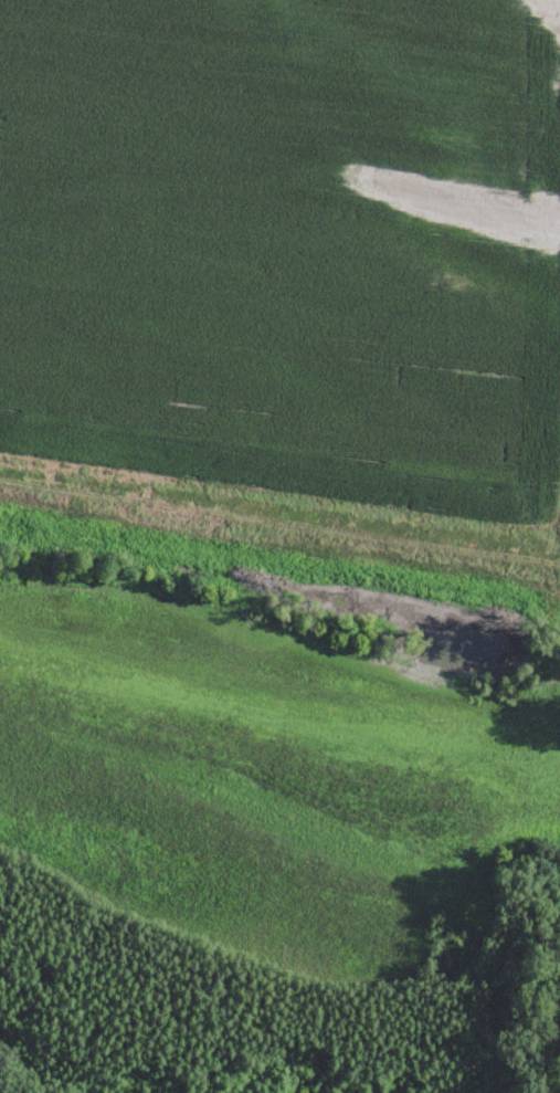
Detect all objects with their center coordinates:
crop: (287, 244)
crop: (268, 789)

